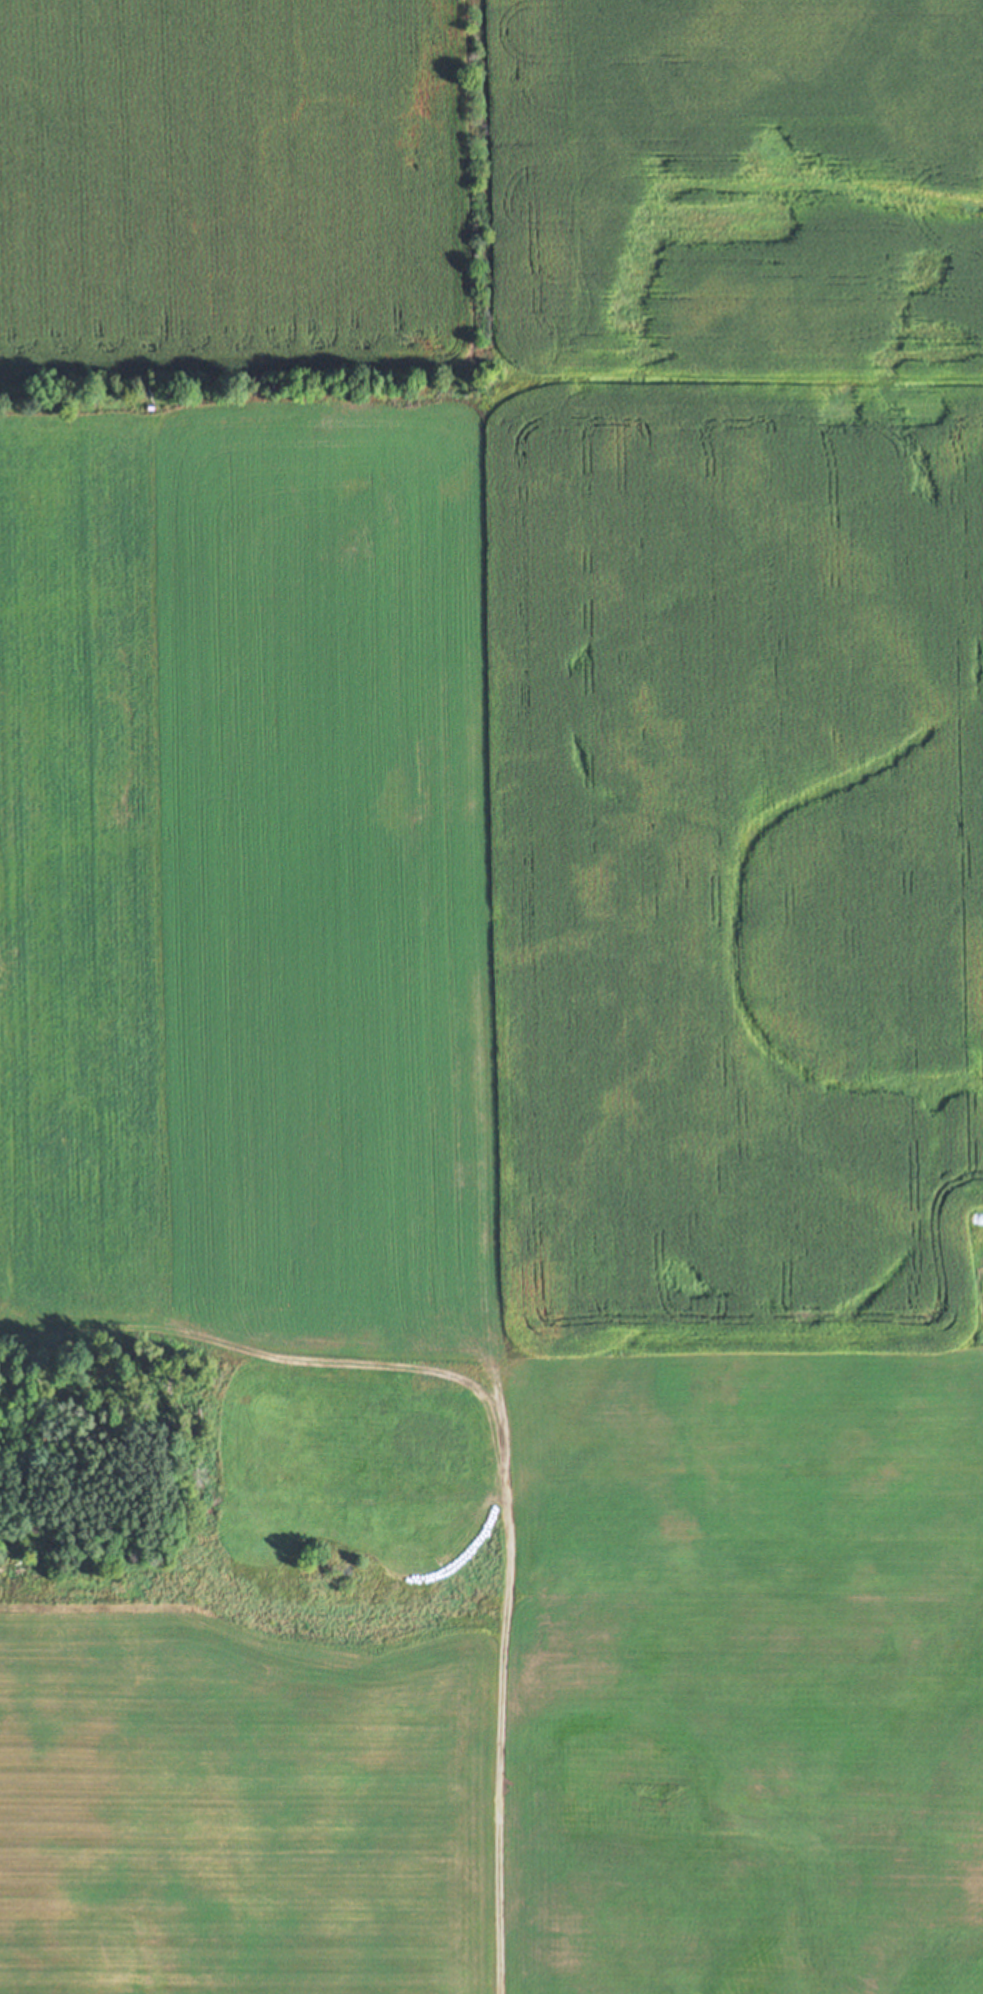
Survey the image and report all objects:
road: (505, 1512)

